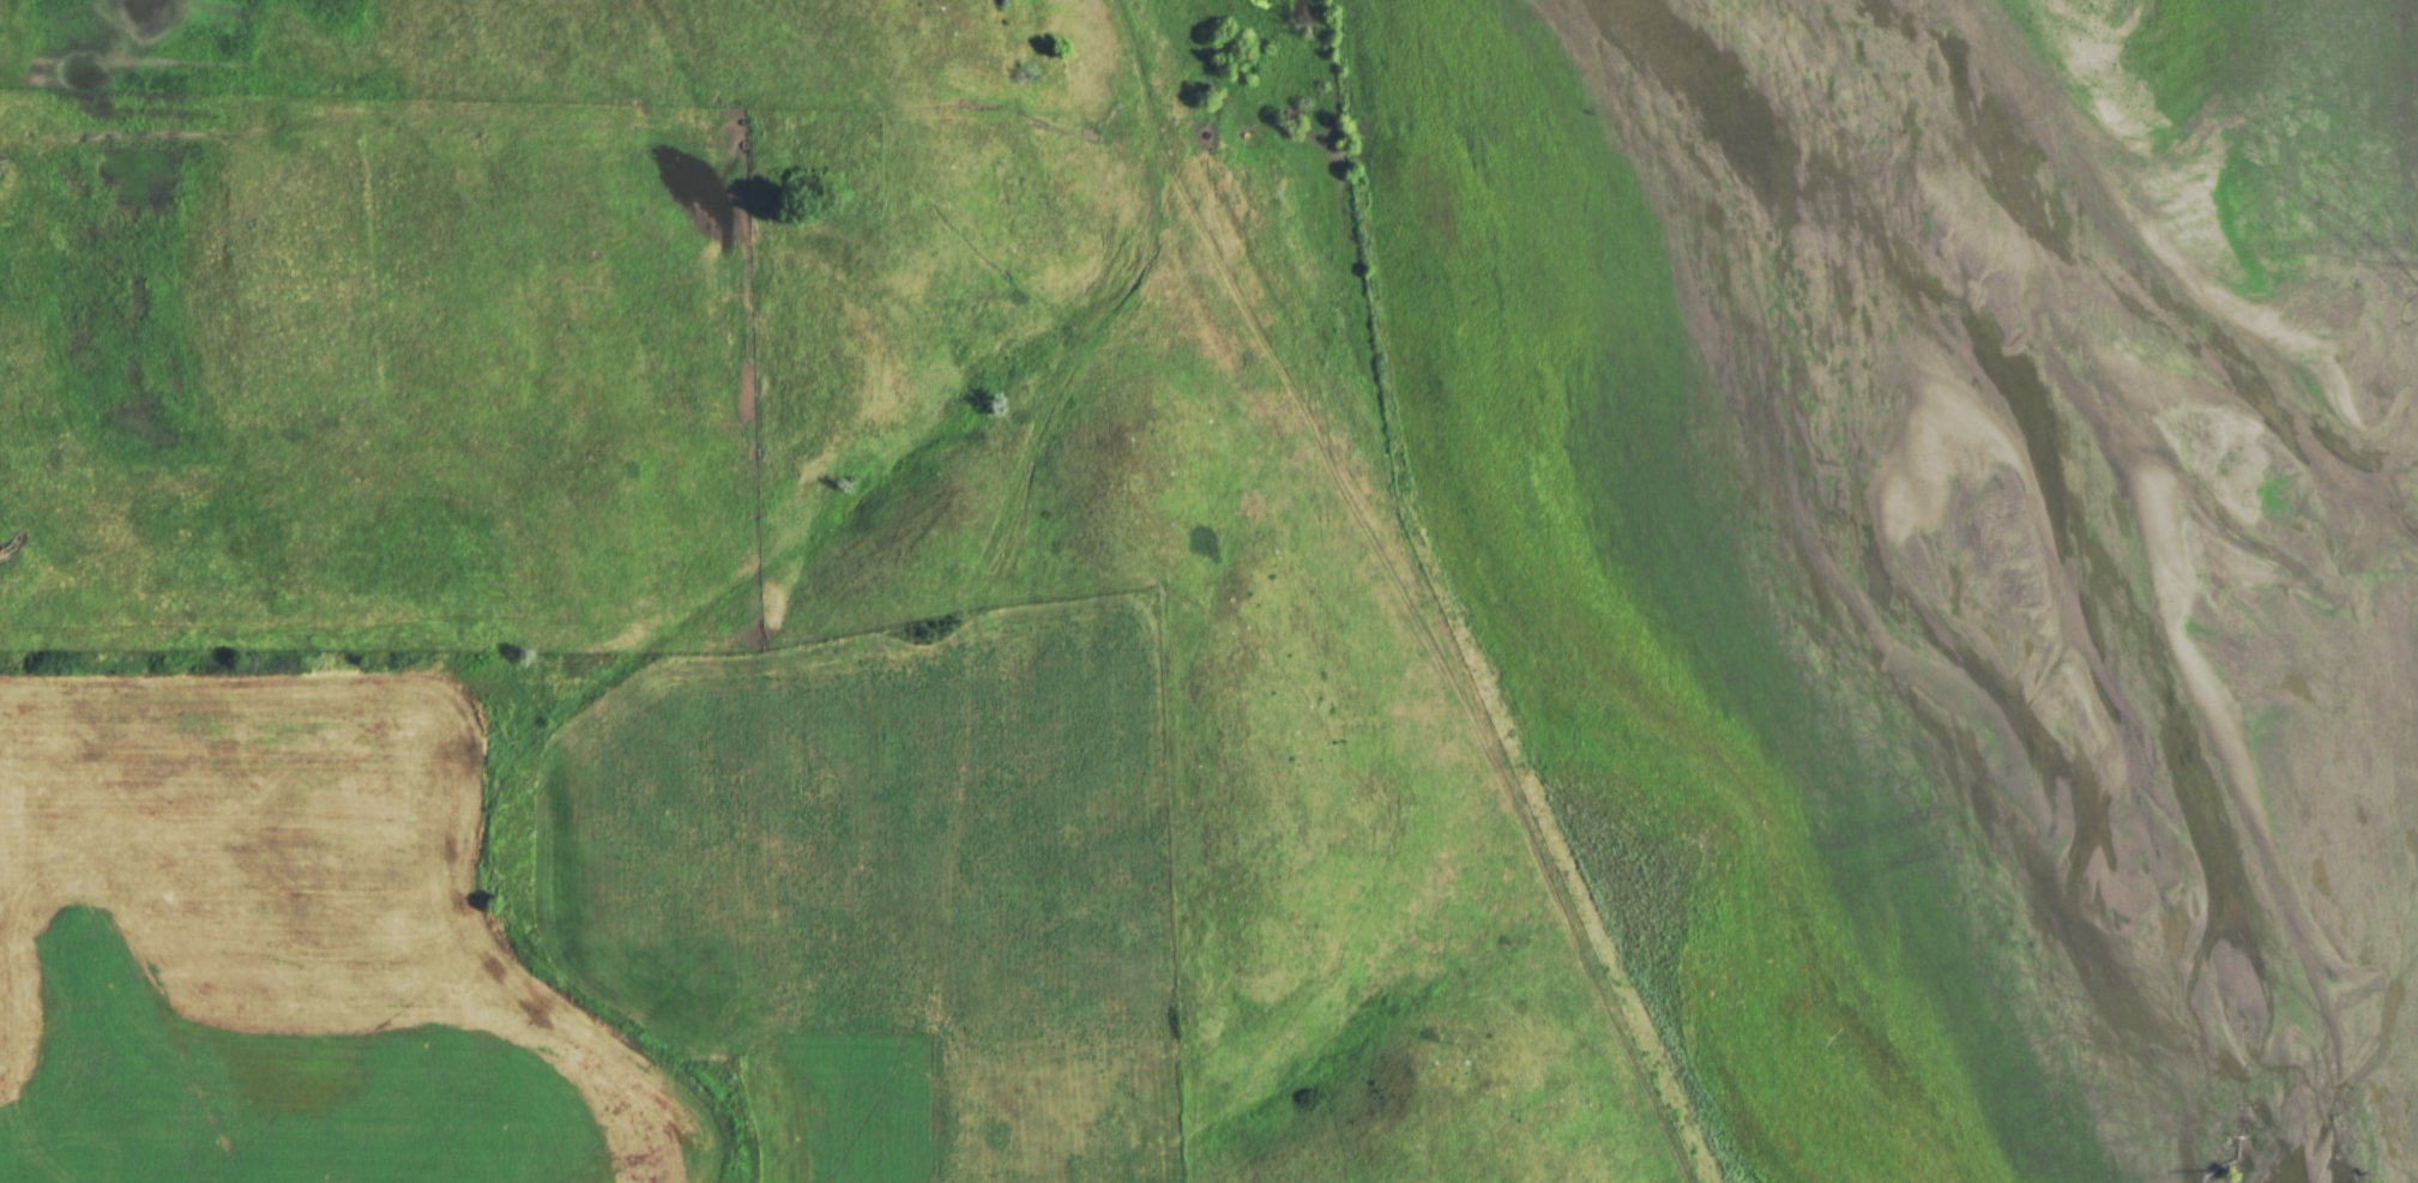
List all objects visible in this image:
road: (381, 102)
road: (1042, 427)

